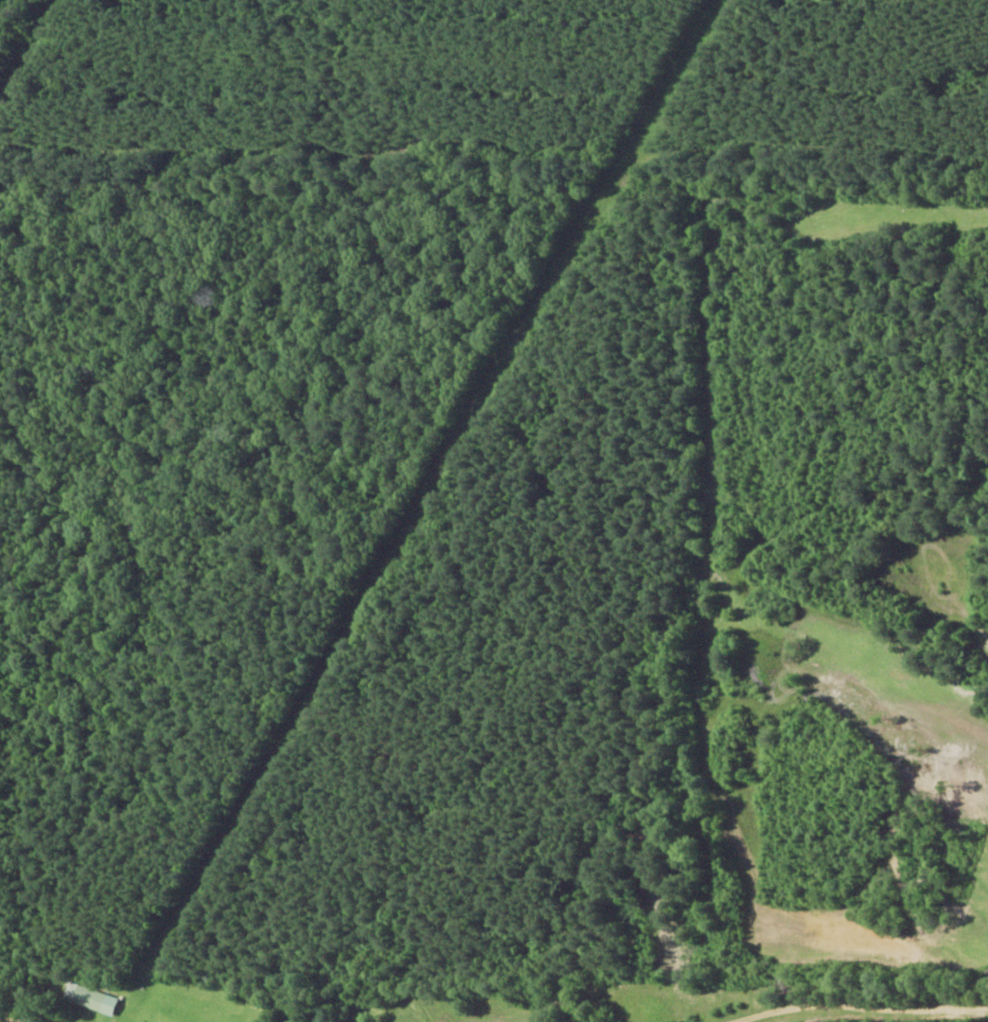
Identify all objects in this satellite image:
building: (97, 999)

